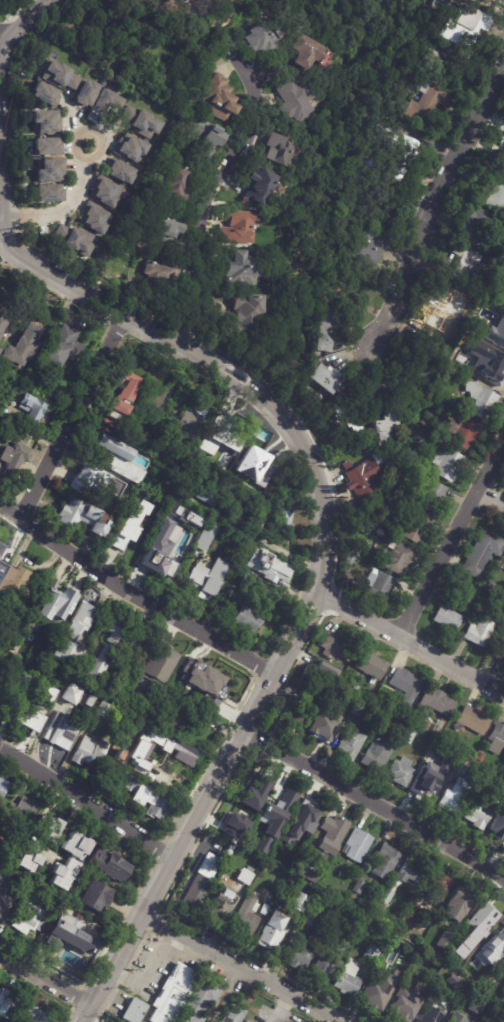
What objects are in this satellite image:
building: (464, 26)
building: (256, 40)
road: (3, 43)
building: (447, 48)
building: (307, 52)
building: (447, 64)
road: (265, 73)
building: (59, 75)
building: (45, 94)
building: (84, 94)
building: (219, 98)
building: (293, 100)
road: (0, 101)
building: (426, 104)
building: (102, 107)
building: (143, 122)
building: (44, 123)
building: (205, 135)
building: (45, 147)
building: (131, 150)
building: (281, 153)
building: (400, 159)
building: (503, 161)
building: (48, 170)
building: (118, 172)
road: (220, 175)
building: (179, 185)
building: (260, 186)
building: (46, 193)
building: (103, 193)
building: (494, 198)
road: (433, 206)
road: (67, 207)
building: (384, 212)
road: (0, 220)
building: (92, 220)
building: (477, 226)
building: (238, 227)
building: (169, 234)
building: (74, 240)
building: (368, 251)
building: (465, 262)
building: (240, 270)
building: (164, 275)
building: (443, 311)
building: (246, 314)
building: (2, 322)
road: (193, 322)
road: (212, 331)
building: (322, 333)
building: (479, 333)
building: (502, 333)
building: (24, 345)
building: (503, 346)
building: (61, 349)
road: (214, 364)
building: (424, 371)
building: (496, 372)
building: (326, 378)
building: (18, 390)
building: (57, 396)
building: (121, 400)
building: (481, 400)
building: (153, 401)
building: (440, 405)
building: (30, 411)
road: (71, 417)
building: (190, 418)
building: (344, 420)
building: (424, 422)
building: (384, 425)
building: (464, 433)
building: (146, 439)
building: (227, 442)
building: (331, 451)
building: (108, 457)
building: (14, 460)
building: (256, 462)
building: (447, 464)
building: (361, 478)
building: (395, 478)
building: (92, 483)
building: (123, 487)
building: (183, 492)
building: (206, 496)
building: (431, 496)
road: (491, 498)
building: (114, 510)
building: (265, 512)
building: (167, 514)
building: (84, 517)
building: (186, 517)
building: (284, 519)
building: (415, 529)
building: (364, 531)
building: (379, 533)
building: (392, 533)
building: (205, 536)
road: (452, 537)
road: (275, 543)
building: (125, 545)
building: (1, 548)
building: (483, 552)
building: (0, 555)
building: (164, 556)
building: (398, 559)
building: (349, 561)
building: (267, 567)
building: (1, 568)
building: (206, 580)
building: (492, 585)
building: (15, 586)
building: (377, 587)
building: (257, 591)
road: (135, 592)
building: (58, 600)
building: (446, 618)
building: (243, 619)
building: (479, 632)
building: (71, 638)
road: (411, 640)
building: (20, 641)
building: (138, 643)
building: (45, 644)
building: (336, 647)
building: (499, 649)
building: (102, 652)
building: (160, 664)
building: (371, 666)
building: (325, 670)
building: (10, 672)
building: (201, 677)
building: (295, 681)
building: (404, 683)
building: (25, 684)
building: (343, 684)
building: (355, 687)
building: (137, 691)
building: (205, 696)
building: (67, 697)
building: (87, 702)
building: (437, 702)
building: (359, 709)
building: (99, 712)
building: (294, 714)
building: (26, 719)
building: (173, 720)
building: (471, 721)
building: (382, 722)
building: (412, 724)
building: (321, 726)
building: (439, 726)
building: (59, 730)
building: (496, 736)
building: (408, 737)
building: (349, 744)
building: (147, 751)
building: (436, 751)
building: (87, 753)
building: (376, 755)
building: (481, 757)
building: (112, 758)
building: (110, 766)
building: (463, 767)
building: (400, 771)
building: (486, 777)
building: (425, 786)
building: (3, 788)
building: (253, 790)
building: (454, 796)
road: (87, 798)
building: (145, 798)
building: (285, 798)
road: (375, 803)
road: (201, 805)
building: (21, 810)
building: (481, 810)
building: (304, 814)
building: (234, 825)
building: (259, 825)
building: (497, 826)
building: (331, 834)
building: (39, 841)
building: (357, 845)
building: (2, 847)
building: (228, 847)
building: (274, 853)
building: (69, 860)
building: (385, 861)
building: (109, 865)
building: (207, 866)
building: (411, 871)
building: (296, 874)
building: (244, 877)
building: (310, 879)
building: (438, 885)
building: (358, 886)
building: (29, 891)
building: (195, 893)
building: (339, 895)
building: (95, 897)
building: (387, 897)
building: (7, 900)
building: (267, 903)
building: (456, 903)
building: (221, 905)
building: (414, 906)
building: (67, 909)
building: (294, 910)
building: (246, 917)
building: (311, 917)
building: (26, 918)
building: (482, 919)
building: (42, 926)
building: (336, 929)
building: (270, 934)
building: (62, 936)
building: (444, 939)
building: (495, 944)
building: (343, 949)
building: (371, 953)
building: (299, 955)
building: (503, 959)
building: (459, 961)
building: (325, 964)
building: (502, 964)
road: (245, 965)
building: (470, 966)
road: (44, 976)
building: (347, 978)
building: (454, 981)
building: (494, 989)
building: (379, 990)
building: (432, 993)
building: (173, 994)
building: (501, 1000)
building: (199, 1001)
building: (8, 1005)
building: (478, 1006)
building: (136, 1011)
building: (402, 1013)
building: (233, 1014)
building: (431, 1015)
building: (491, 1016)
building: (456, 1018)
building: (246, 1021)

